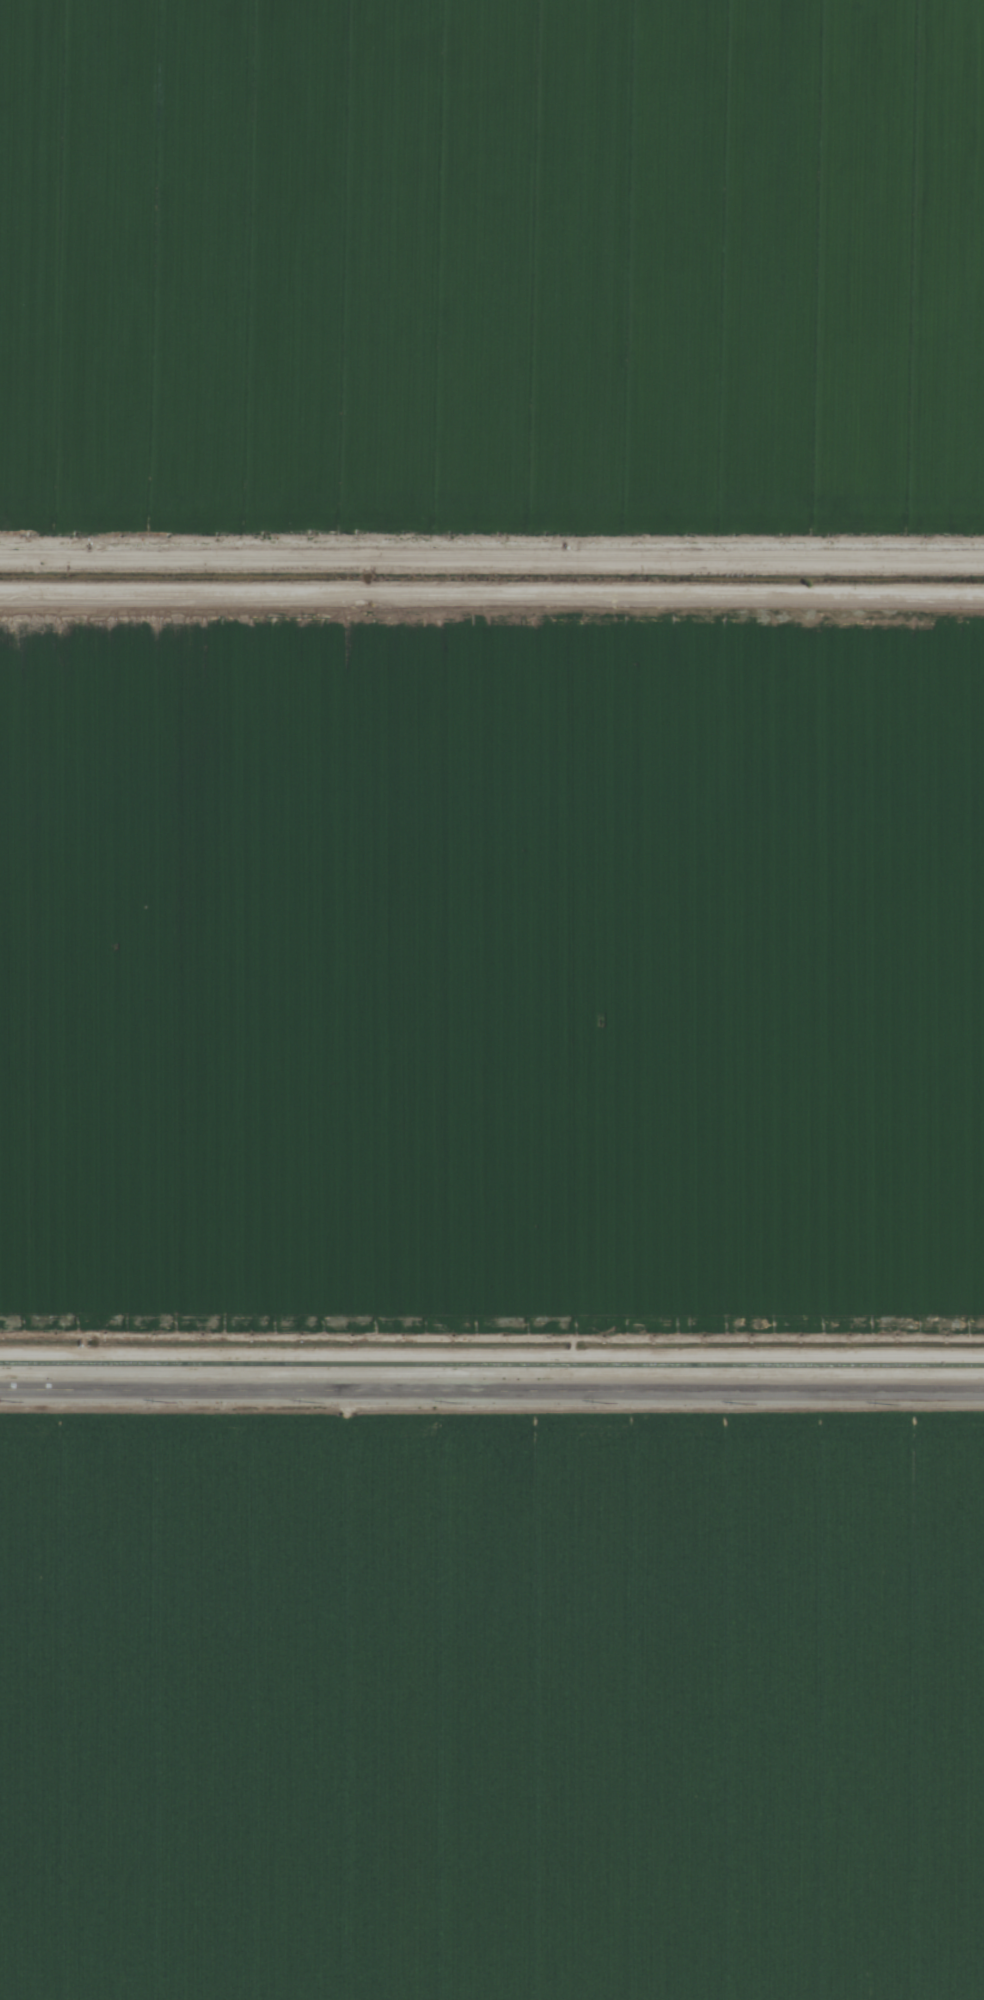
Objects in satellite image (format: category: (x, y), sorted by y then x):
road: (492, 1427)

